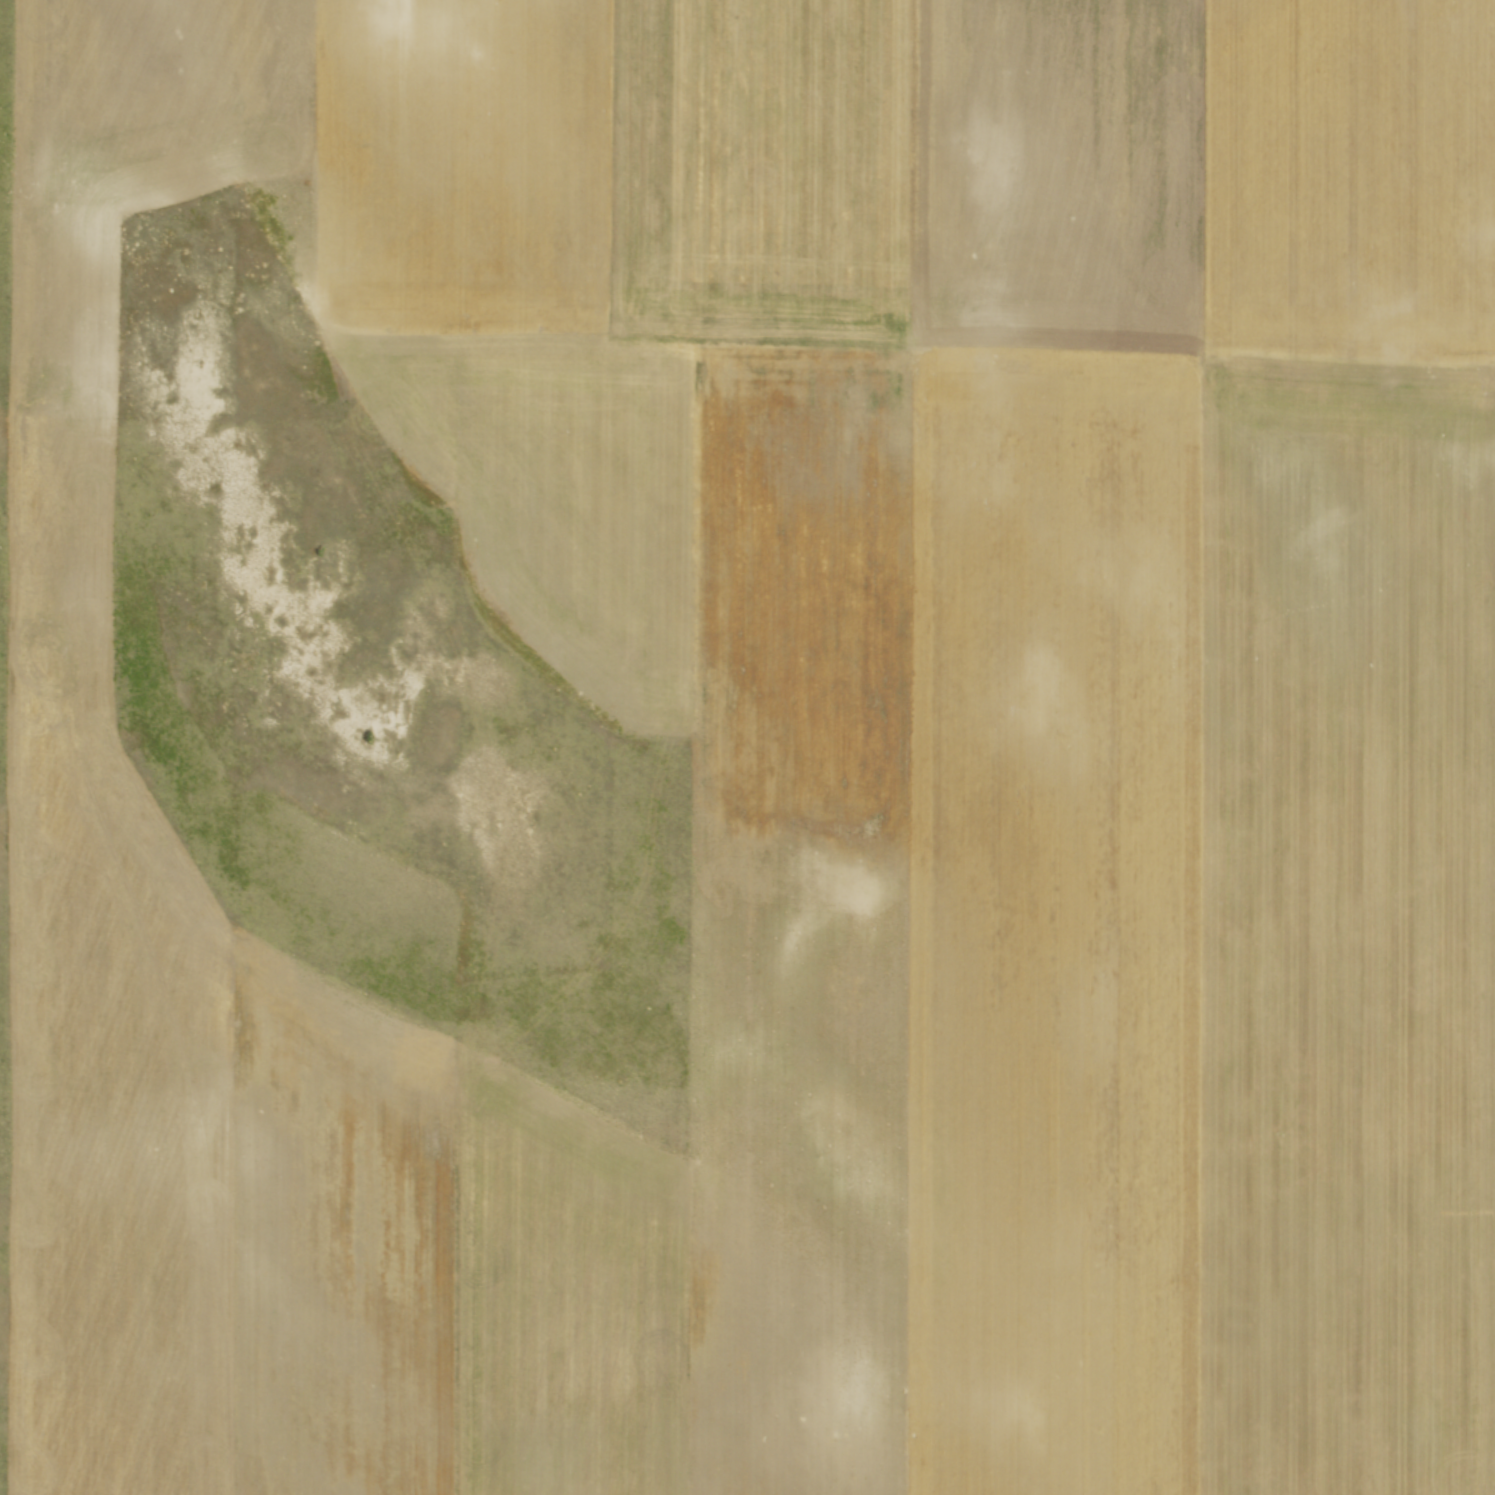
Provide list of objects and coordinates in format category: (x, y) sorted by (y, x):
crop: (751, 746)

